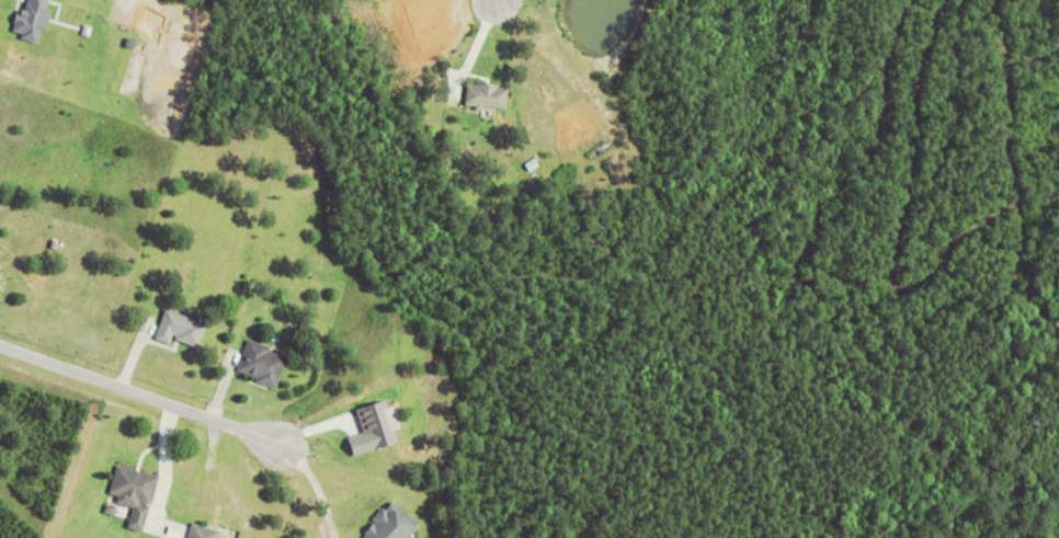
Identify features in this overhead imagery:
road: (494, 2)
building: (36, 19)
building: (490, 94)
building: (307, 327)
building: (183, 328)
building: (261, 363)
road: (143, 393)
building: (379, 427)
building: (135, 493)
building: (396, 524)
building: (206, 531)

